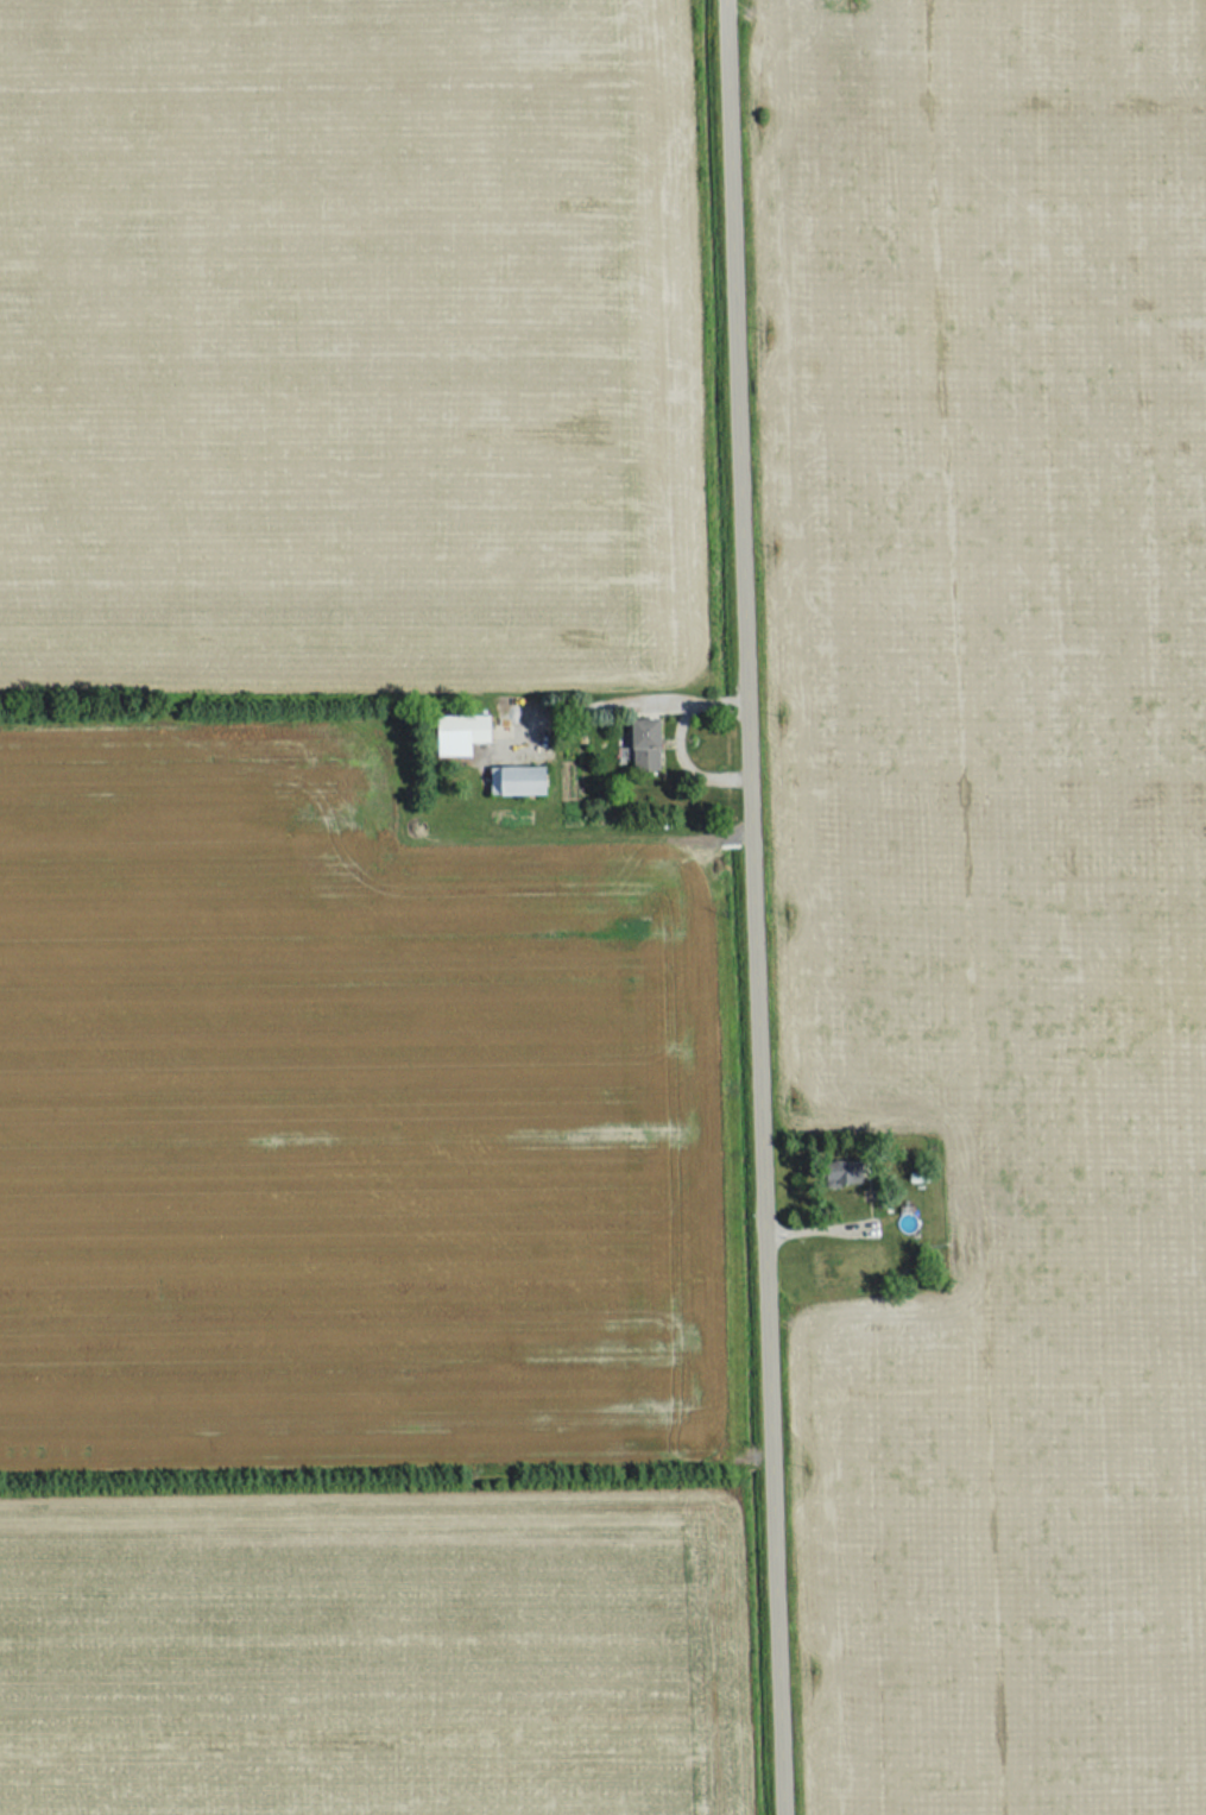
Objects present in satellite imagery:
crop: (351, 345)
building: (456, 733)
building: (637, 745)
building: (512, 780)
crop: (1000, 880)
road: (758, 907)
crop: (340, 1118)
building: (839, 1173)
crop: (370, 1650)

